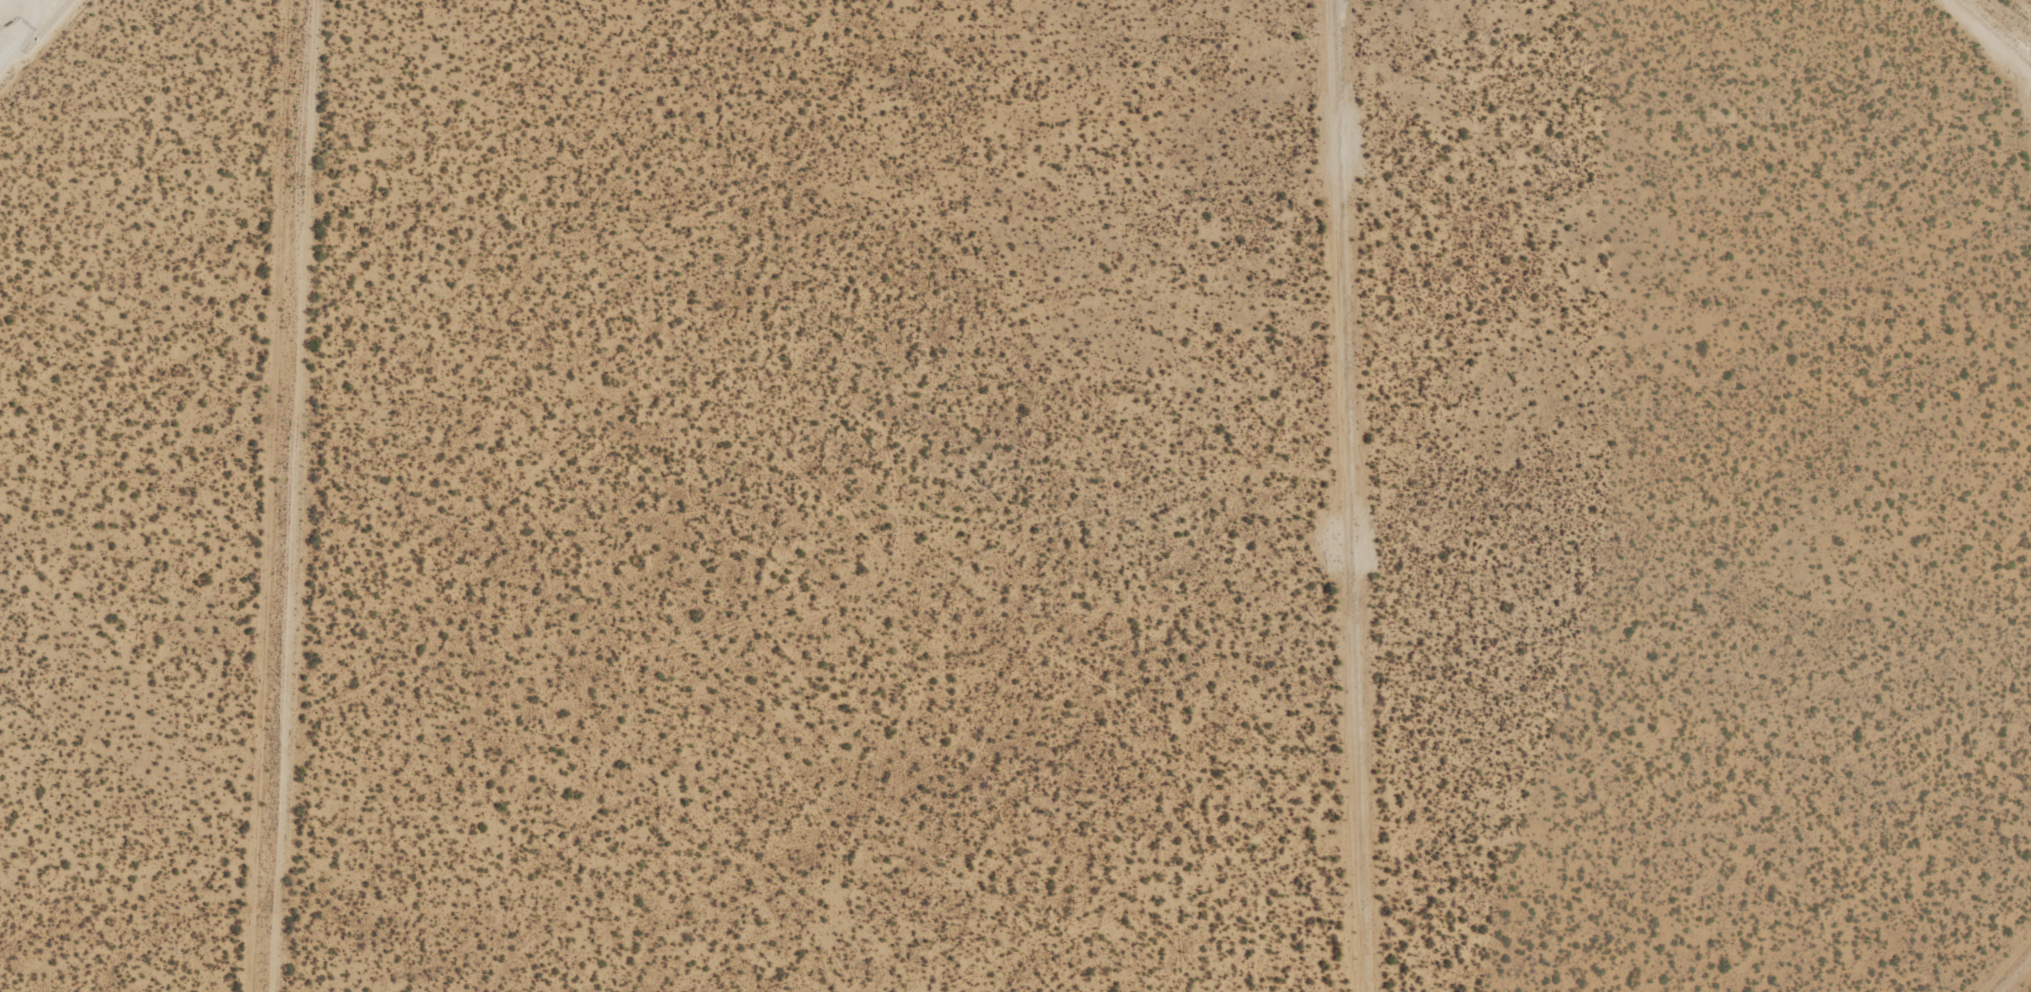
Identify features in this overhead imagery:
road: (16, 34)

